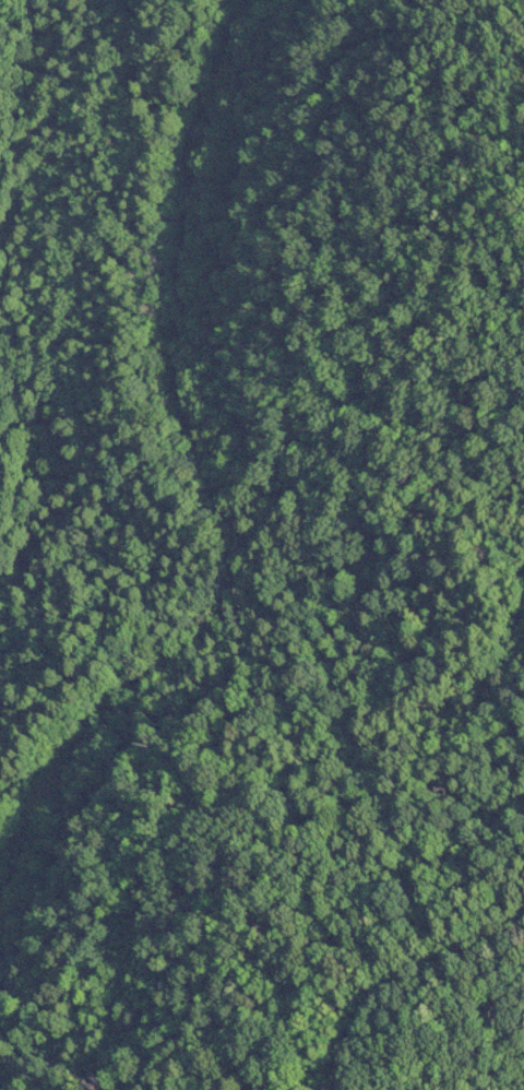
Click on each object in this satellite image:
road: (414, 979)

